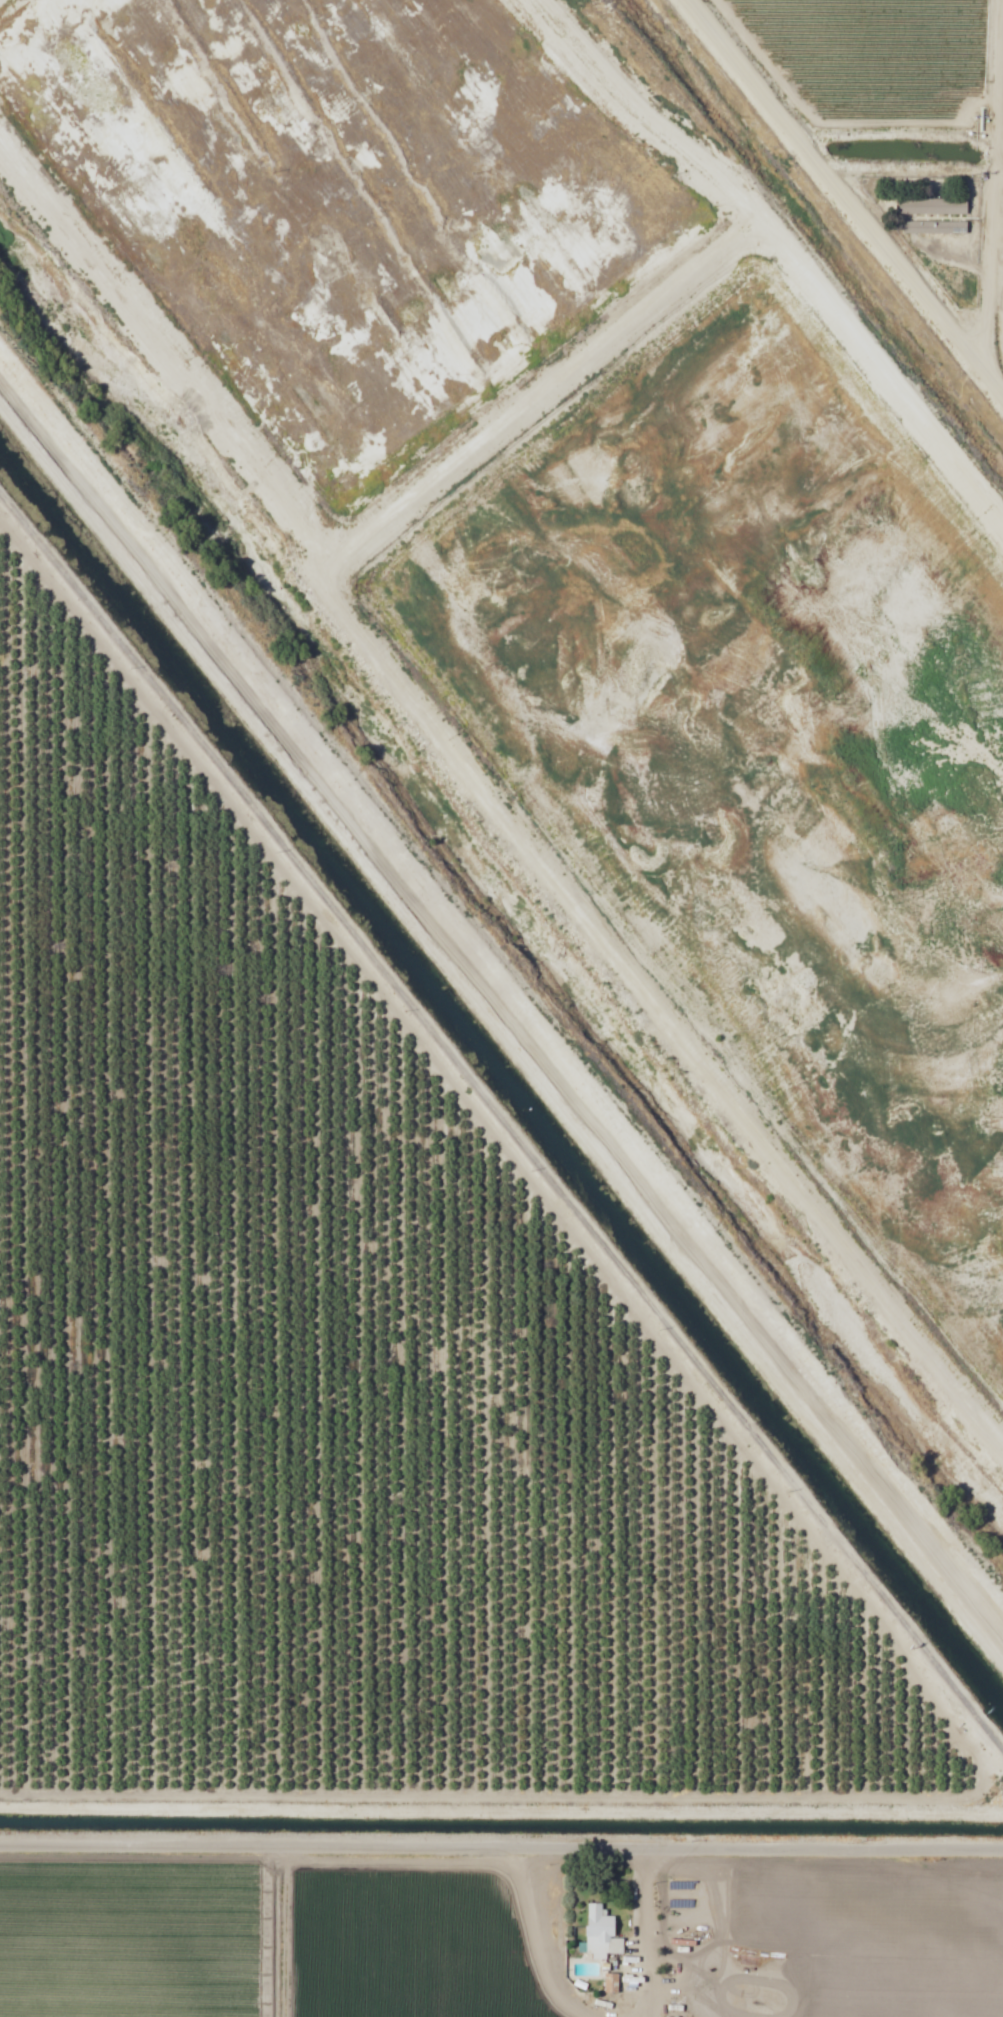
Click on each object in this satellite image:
crop: (907, 120)
road: (998, 170)
road: (993, 182)
road: (831, 183)
building: (933, 204)
road: (992, 378)
road: (500, 998)
road: (501, 1119)
road: (501, 1845)
building: (603, 1931)
road: (644, 1932)
road: (535, 1937)
crop: (28, 1938)
crop: (285, 1942)

